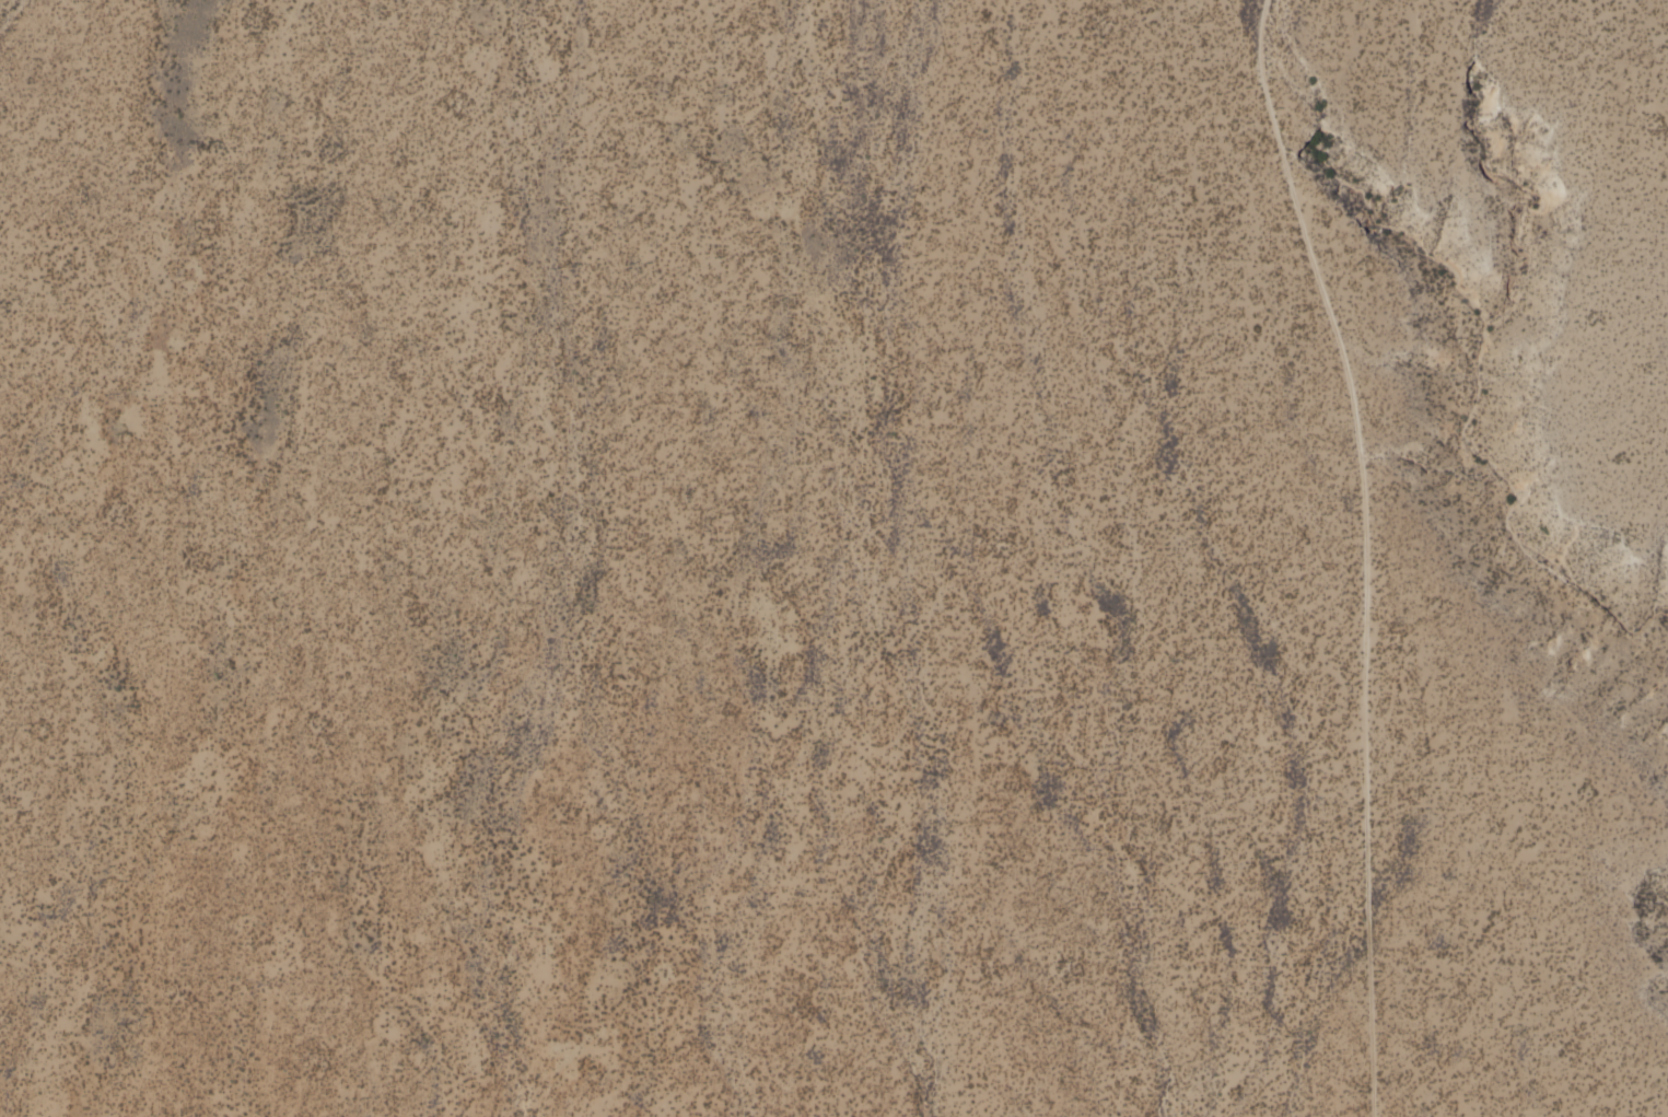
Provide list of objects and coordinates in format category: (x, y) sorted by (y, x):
road: (1356, 551)

